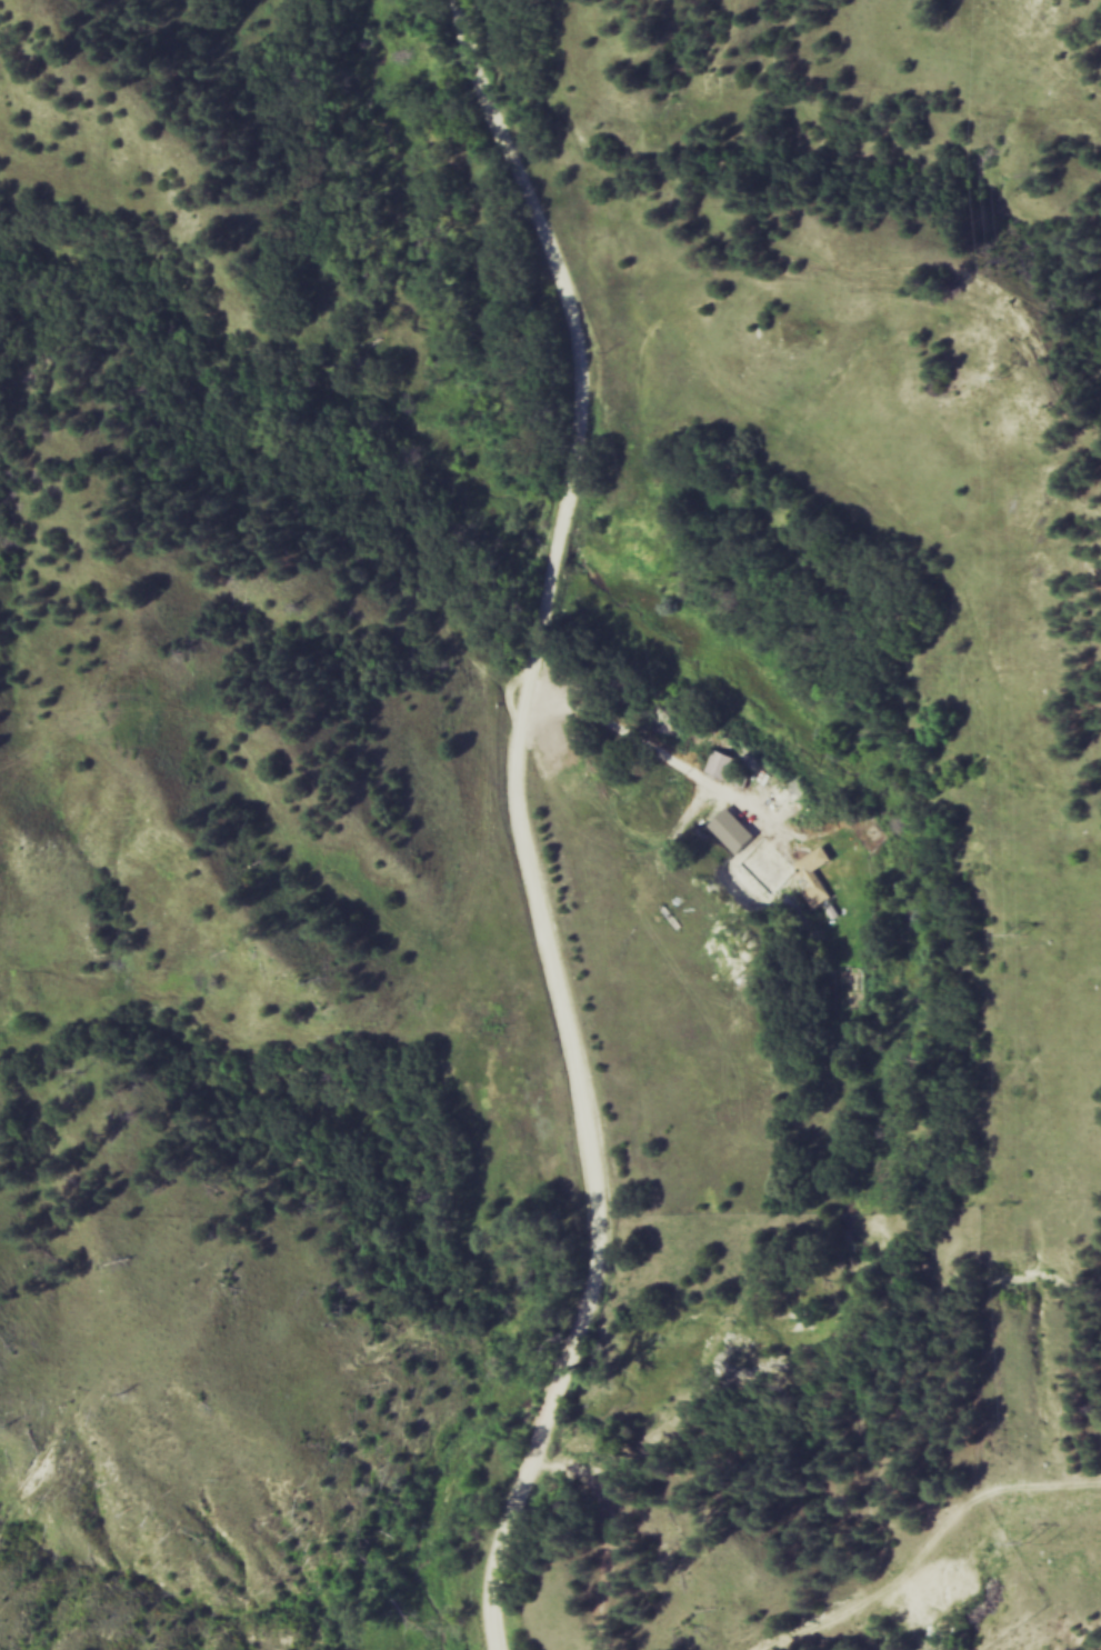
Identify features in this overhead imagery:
power tower: (1012, 374)
road: (662, 753)
building: (731, 767)
road: (514, 824)
building: (818, 872)
power tower: (1020, 932)
power tower: (1028, 1540)

